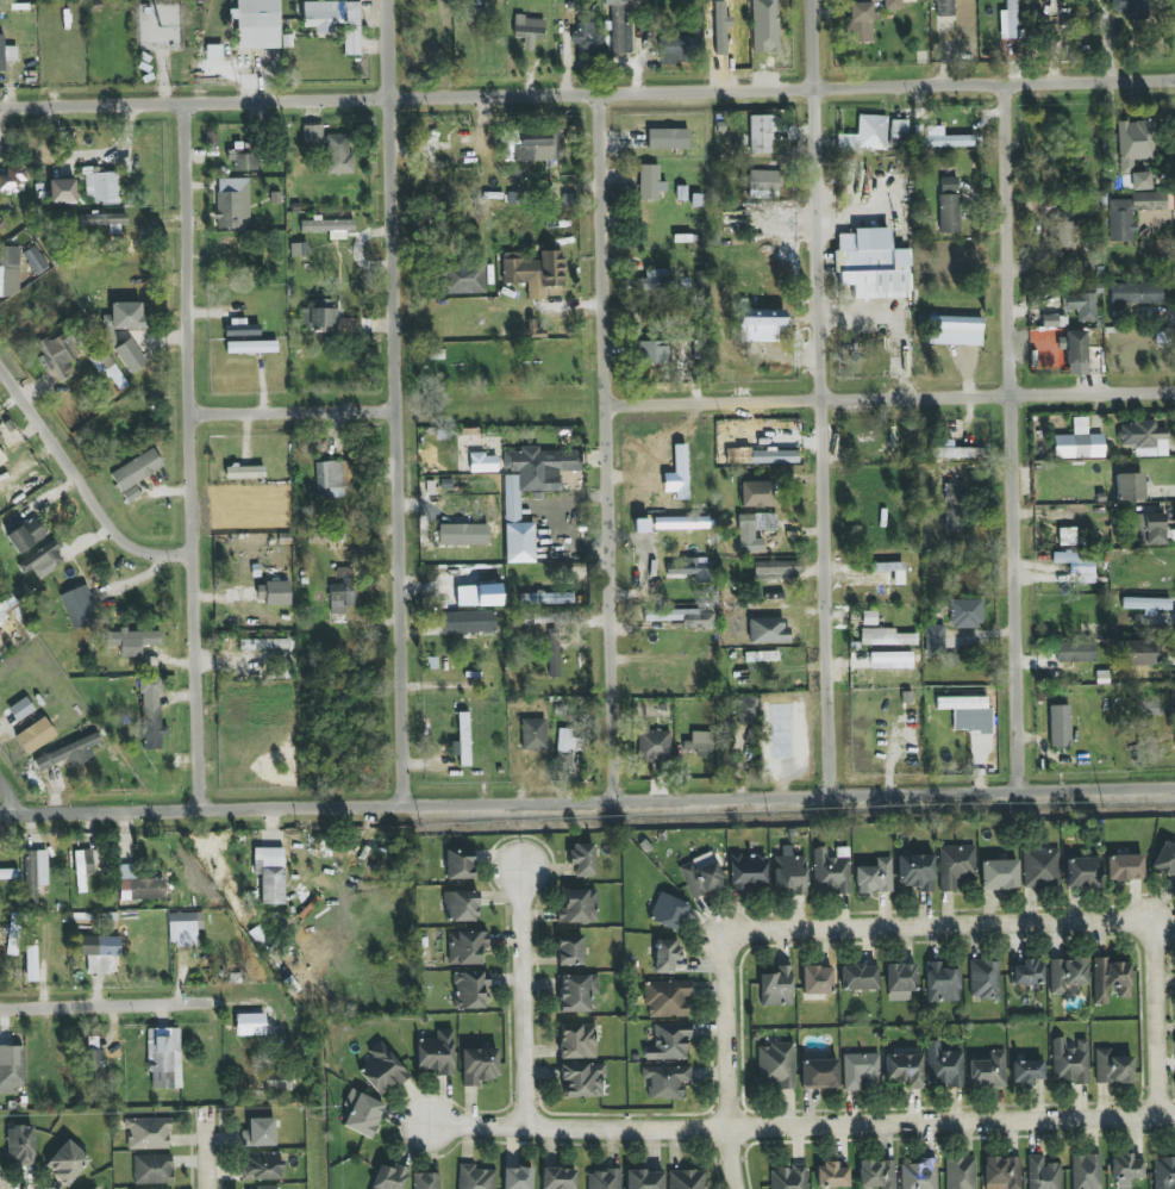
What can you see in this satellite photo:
building: (618, 0)
building: (892, 5)
building: (944, 7)
building: (1131, 8)
building: (1008, 20)
building: (336, 21)
building: (860, 21)
building: (257, 24)
building: (529, 30)
building: (619, 33)
building: (586, 38)
building: (677, 49)
building: (6, 54)
road: (587, 93)
building: (899, 130)
building: (760, 133)
building: (865, 135)
building: (312, 136)
building: (668, 138)
building: (949, 139)
building: (538, 147)
building: (1136, 150)
building: (339, 154)
building: (245, 163)
building: (13, 180)
building: (649, 182)
building: (764, 183)
building: (62, 191)
building: (515, 199)
building: (232, 204)
building: (949, 205)
building: (1131, 213)
building: (104, 219)
building: (1, 225)
building: (326, 225)
building: (1062, 235)
building: (36, 260)
building: (871, 264)
building: (10, 272)
building: (535, 273)
building: (463, 278)
building: (657, 279)
building: (1136, 293)
building: (1081, 305)
building: (124, 317)
building: (326, 320)
building: (760, 324)
building: (955, 324)
building: (242, 330)
building: (251, 347)
building: (1076, 347)
building: (61, 353)
building: (652, 353)
building: (130, 355)
building: (107, 367)
road: (824, 396)
road: (892, 396)
road: (401, 401)
road: (299, 409)
road: (1017, 434)
building: (1143, 438)
building: (1, 440)
building: (1079, 442)
road: (611, 444)
road: (194, 453)
building: (773, 456)
building: (483, 462)
building: (2, 463)
building: (680, 463)
building: (244, 472)
building: (136, 473)
building: (332, 478)
road: (81, 486)
building: (1129, 486)
building: (755, 494)
building: (512, 506)
building: (955, 508)
building: (755, 522)
building: (682, 523)
building: (1149, 529)
building: (25, 535)
building: (1067, 536)
building: (746, 542)
building: (42, 559)
building: (1079, 565)
building: (686, 567)
building: (777, 567)
building: (340, 592)
building: (274, 593)
building: (488, 594)
building: (545, 598)
building: (1145, 604)
building: (79, 606)
building: (7, 608)
building: (965, 612)
building: (682, 617)
building: (542, 618)
building: (467, 622)
building: (768, 630)
building: (886, 637)
building: (132, 641)
building: (935, 641)
building: (263, 643)
building: (1075, 652)
building: (552, 653)
building: (1137, 653)
building: (890, 656)
building: (745, 706)
building: (20, 709)
building: (151, 714)
building: (968, 714)
building: (1060, 726)
building: (533, 734)
building: (35, 736)
building: (462, 740)
building: (699, 743)
building: (654, 747)
building: (567, 748)
building: (68, 753)
road: (13, 790)
road: (587, 799)
building: (582, 859)
building: (1165, 859)
building: (458, 864)
building: (955, 866)
building: (83, 867)
building: (1124, 867)
building: (1040, 869)
building: (746, 870)
building: (790, 871)
building: (830, 872)
building: (915, 872)
building: (1082, 872)
building: (35, 873)
building: (8, 874)
building: (270, 874)
building: (999, 874)
building: (701, 876)
building: (875, 877)
building: (139, 885)
building: (461, 905)
building: (577, 907)
building: (668, 911)
building: (185, 927)
road: (925, 927)
building: (4, 939)
building: (467, 947)
building: (570, 951)
building: (99, 952)
building: (668, 955)
building: (1027, 973)
building: (1065, 975)
building: (858, 977)
building: (985, 979)
building: (1110, 979)
building: (817, 981)
building: (900, 982)
building: (942, 983)
building: (776, 988)
building: (469, 989)
building: (576, 992)
road: (524, 994)
building: (667, 998)
road: (137, 1004)
road: (1156, 1013)
building: (249, 1025)
building: (577, 1041)
building: (669, 1042)
building: (436, 1053)
building: (93, 1057)
building: (164, 1058)
building: (1069, 1062)
building: (479, 1065)
building: (776, 1065)
building: (943, 1066)
road: (729, 1067)
building: (1112, 1067)
building: (11, 1069)
building: (382, 1070)
building: (860, 1070)
building: (904, 1070)
building: (988, 1071)
building: (1026, 1072)
building: (819, 1073)
building: (582, 1079)
building: (270, 1081)
building: (665, 1081)
building: (361, 1113)
road: (802, 1127)
building: (148, 1133)
building: (258, 1133)
building: (20, 1145)
road: (205, 1156)
building: (67, 1163)
building: (262, 1165)
building: (0, 1166)
building: (1126, 1168)
building: (152, 1169)
building: (1086, 1171)
building: (960, 1172)
building: (1002, 1172)
building: (1164, 1172)
building: (876, 1174)
building: (1042, 1174)
building: (919, 1175)
building: (831, 1176)
building: (389, 1177)
building: (474, 1177)
building: (789, 1177)
building: (517, 1178)
building: (558, 1178)
building: (604, 1179)
building: (644, 1179)
building: (686, 1179)
building: (426, 1181)
building: (267, 1187)
building: (94, 1188)

